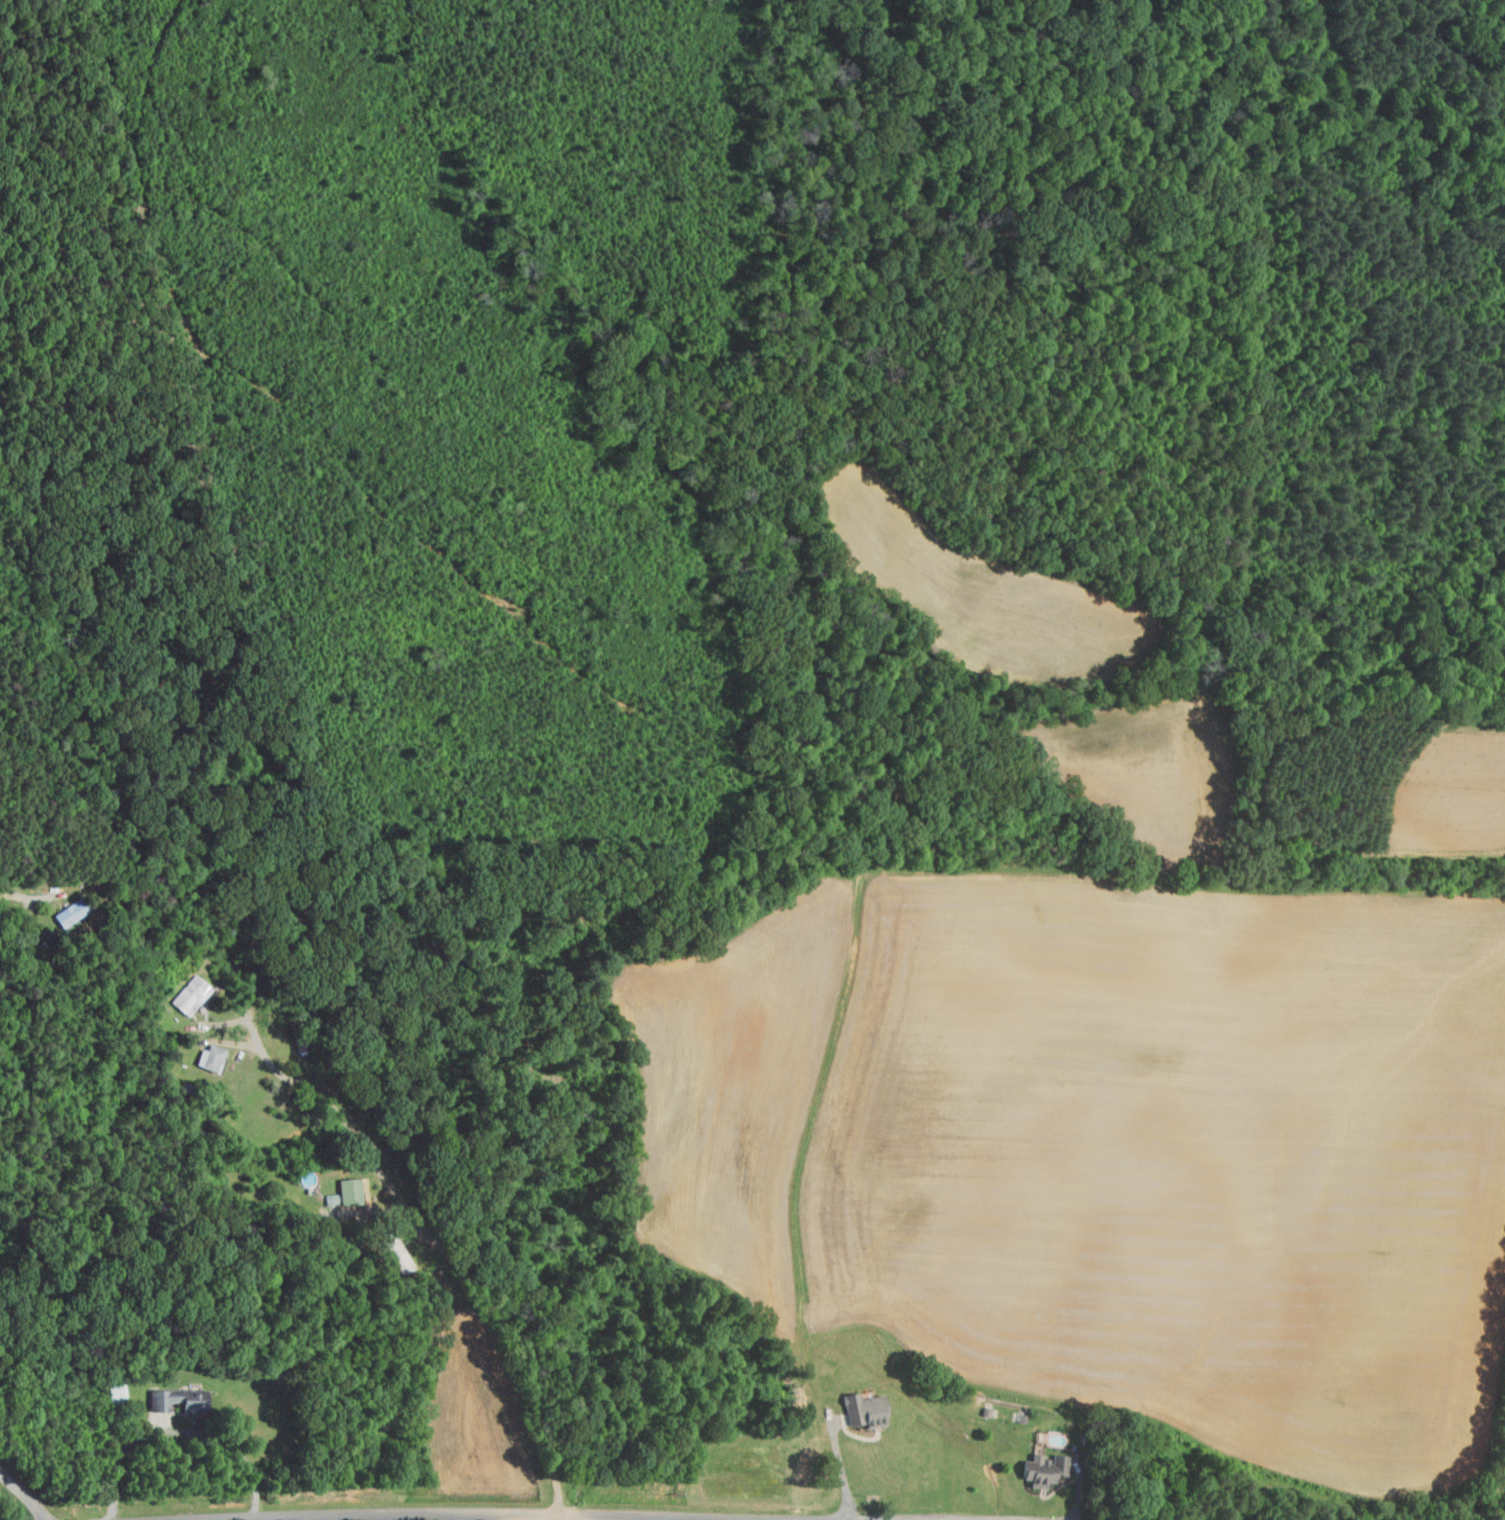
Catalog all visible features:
road: (16, 896)
building: (73, 912)
building: (189, 995)
building: (208, 1058)
road: (447, 1257)
building: (176, 1400)
building: (863, 1409)
road: (180, 1430)
building: (1041, 1468)
road: (841, 1469)
road: (24, 1493)
road: (533, 1514)
road: (345, 1518)
road: (741, 1519)

